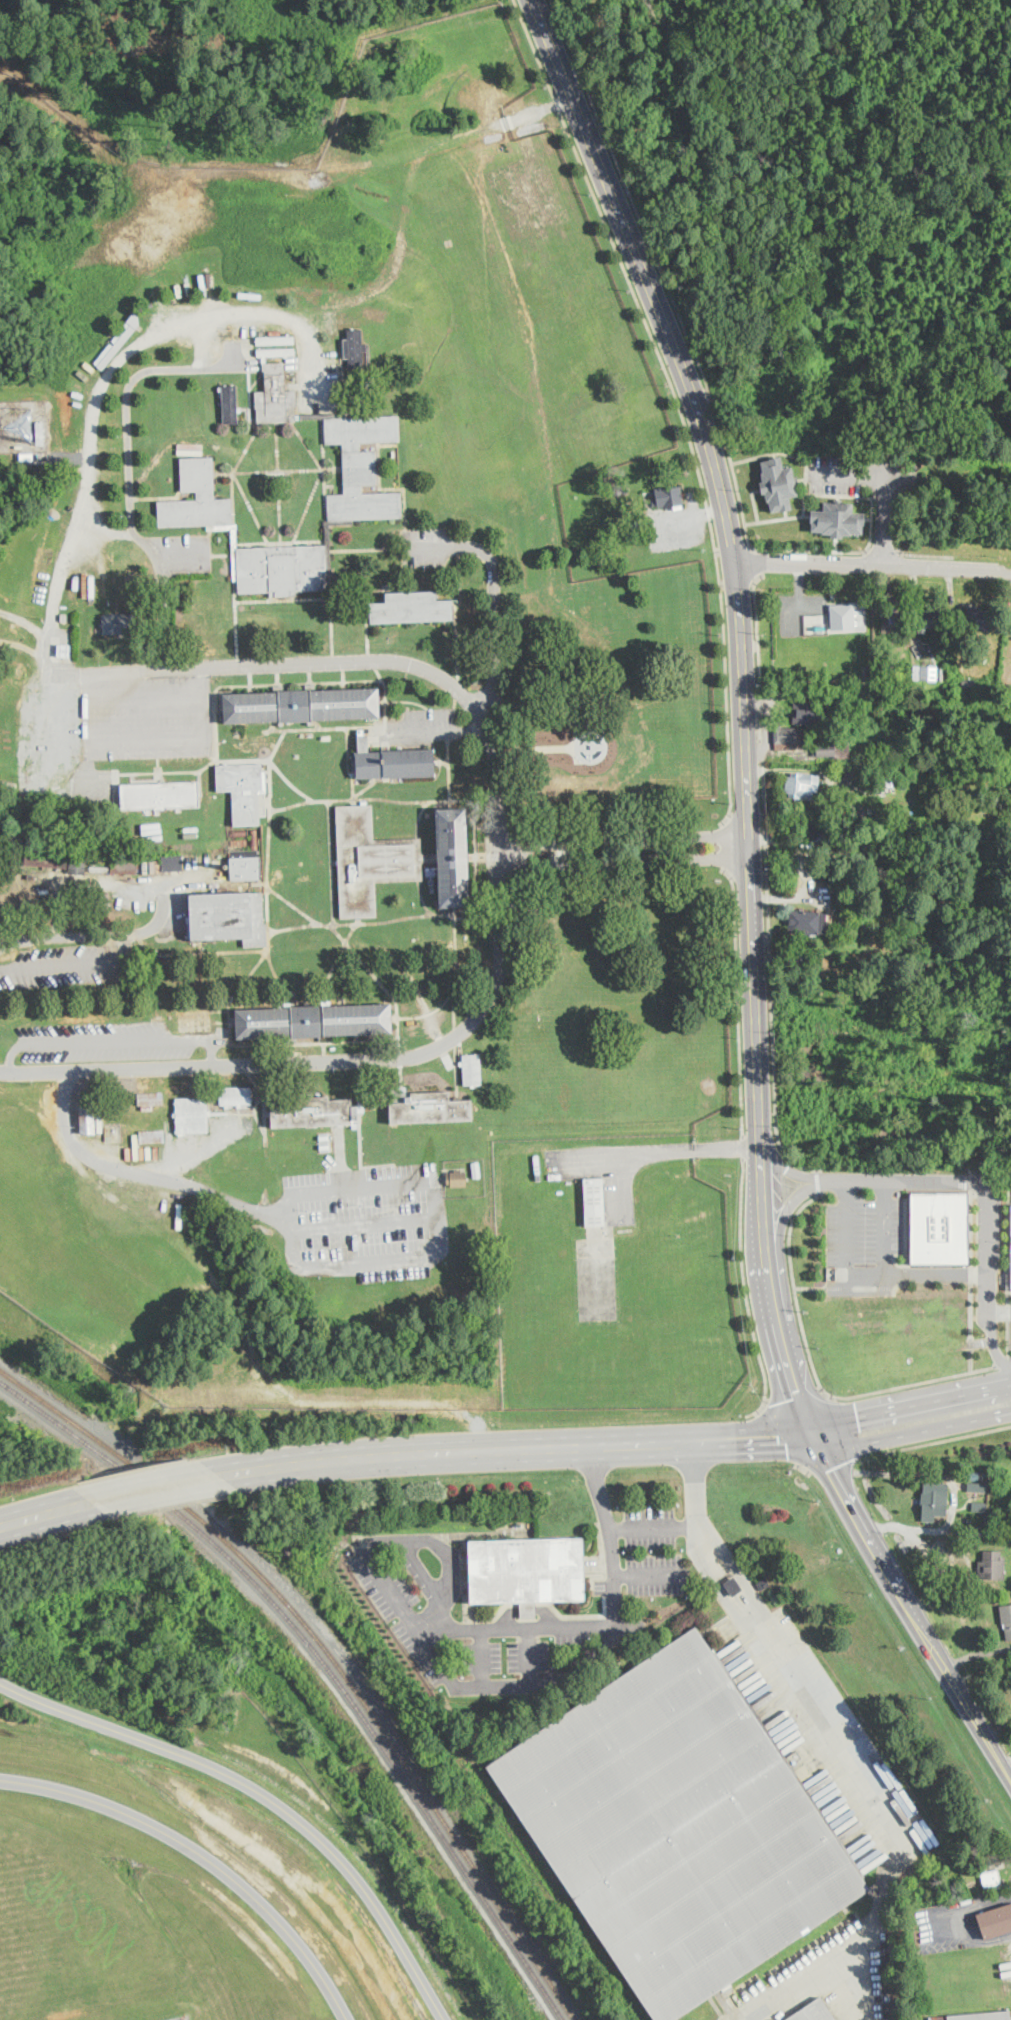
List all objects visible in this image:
road: (596, 46)
building: (354, 103)
road: (199, 169)
road: (406, 186)
road: (655, 258)
building: (373, 312)
building: (118, 339)
building: (275, 339)
building: (354, 348)
building: (275, 351)
road: (256, 379)
road: (127, 394)
road: (249, 396)
building: (275, 396)
road: (677, 400)
building: (230, 404)
road: (323, 442)
road: (307, 444)
road: (783, 451)
road: (378, 465)
building: (362, 467)
road: (278, 468)
road: (859, 471)
building: (778, 482)
road: (240, 484)
road: (278, 484)
building: (623, 489)
road: (402, 492)
road: (325, 493)
building: (669, 497)
building: (196, 498)
road: (232, 498)
road: (307, 507)
building: (837, 517)
road: (871, 517)
road: (882, 518)
road: (732, 546)
building: (327, 547)
road: (365, 548)
road: (881, 550)
parking lot: (178, 552)
road: (925, 553)
road: (757, 560)
road: (160, 564)
building: (234, 564)
road: (874, 565)
building: (282, 569)
road: (736, 582)
road: (319, 595)
road: (739, 603)
building: (411, 609)
road: (454, 611)
building: (841, 615)
road: (52, 616)
building: (891, 616)
building: (64, 618)
building: (928, 618)
building: (980, 618)
road: (25, 621)
building: (122, 624)
road: (756, 627)
road: (236, 629)
road: (331, 633)
road: (25, 645)
building: (938, 645)
building: (64, 651)
road: (371, 659)
road: (496, 661)
road: (243, 664)
building: (925, 671)
road: (343, 679)
road: (309, 680)
road: (277, 681)
road: (250, 682)
building: (965, 683)
road: (232, 684)
road: (382, 700)
road: (406, 700)
building: (301, 705)
road: (385, 714)
building: (810, 714)
parking lot: (146, 715)
road: (289, 727)
road: (56, 730)
road: (442, 730)
building: (789, 737)
building: (831, 749)
road: (441, 759)
building: (393, 762)
road: (143, 771)
building: (804, 784)
road: (364, 787)
building: (242, 790)
building: (160, 795)
road: (436, 799)
road: (430, 800)
road: (450, 803)
building: (845, 813)
building: (855, 813)
road: (418, 817)
building: (810, 835)
road: (330, 839)
road: (724, 843)
road: (740, 844)
road: (268, 849)
road: (506, 853)
building: (398, 859)
building: (46, 860)
building: (171, 862)
building: (77, 865)
building: (119, 867)
building: (245, 868)
building: (90, 902)
road: (454, 911)
building: (228, 917)
road: (393, 919)
building: (807, 921)
road: (345, 922)
road: (350, 930)
road: (93, 933)
road: (197, 952)
road: (455, 956)
road: (361, 959)
road: (76, 963)
parking lot: (64, 965)
road: (273, 968)
road: (328, 974)
road: (768, 976)
road: (736, 1000)
road: (205, 1010)
road: (229, 1019)
building: (313, 1021)
building: (195, 1022)
building: (159, 1024)
road: (113, 1039)
parking lot: (100, 1041)
road: (261, 1043)
road: (324, 1047)
road: (329, 1061)
building: (471, 1069)
building: (235, 1095)
building: (150, 1099)
building: (431, 1109)
building: (311, 1112)
building: (191, 1115)
building: (88, 1120)
building: (152, 1136)
road: (742, 1146)
road: (658, 1149)
road: (997, 1166)
building: (475, 1168)
road: (787, 1168)
road: (145, 1174)
building: (552, 1176)
building: (457, 1178)
road: (816, 1178)
road: (900, 1179)
airport hangar: (594, 1202)
building: (594, 1202)
road: (788, 1208)
parking lot: (366, 1221)
road: (367, 1222)
building: (941, 1228)
road: (904, 1230)
building: (1010, 1232)
road: (985, 1238)
parking lot: (871, 1247)
road: (439, 1249)
road: (905, 1273)
road: (936, 1274)
road: (866, 1275)
airport: (615, 1277)
helipad: (597, 1278)
road: (898, 1283)
road: (793, 1285)
road: (810, 1286)
road: (839, 1286)
road: (865, 1287)
road: (885, 1287)
road: (745, 1292)
road: (969, 1308)
road: (998, 1311)
road: (786, 1341)
road: (969, 1342)
road: (992, 1342)
road: (1010, 1355)
road: (969, 1358)
road: (1003, 1360)
road: (908, 1382)
traffic signals: (797, 1389)
road: (792, 1397)
road: (909, 1404)
traffic signals: (857, 1415)
road: (845, 1428)
road: (911, 1433)
road: (783, 1434)
road: (947, 1436)
traffic signals: (782, 1438)
road: (514, 1449)
traffic signals: (831, 1467)
road: (836, 1469)
building: (974, 1476)
building: (976, 1485)
road: (155, 1490)
building: (934, 1501)
road: (694, 1503)
building: (979, 1507)
road: (45, 1515)
road: (652, 1528)
parking lot: (653, 1550)
road: (447, 1552)
building: (992, 1565)
building: (526, 1572)
road: (649, 1574)
road: (743, 1578)
building: (763, 1583)
building: (733, 1586)
road: (723, 1591)
road: (912, 1606)
road: (525, 1609)
parking lot: (419, 1614)
building: (1006, 1619)
road: (606, 1625)
road: (418, 1628)
railway: (331, 1654)
road: (526, 1656)
road: (479, 1658)
railway: (324, 1661)
road: (265, 1795)
building: (678, 1827)
road: (890, 1829)
road: (203, 1855)
building: (989, 1877)
railway: (561, 1891)
road: (946, 1918)
building: (995, 1921)
parking lot: (824, 1976)
building: (813, 2012)
building: (976, 2016)

